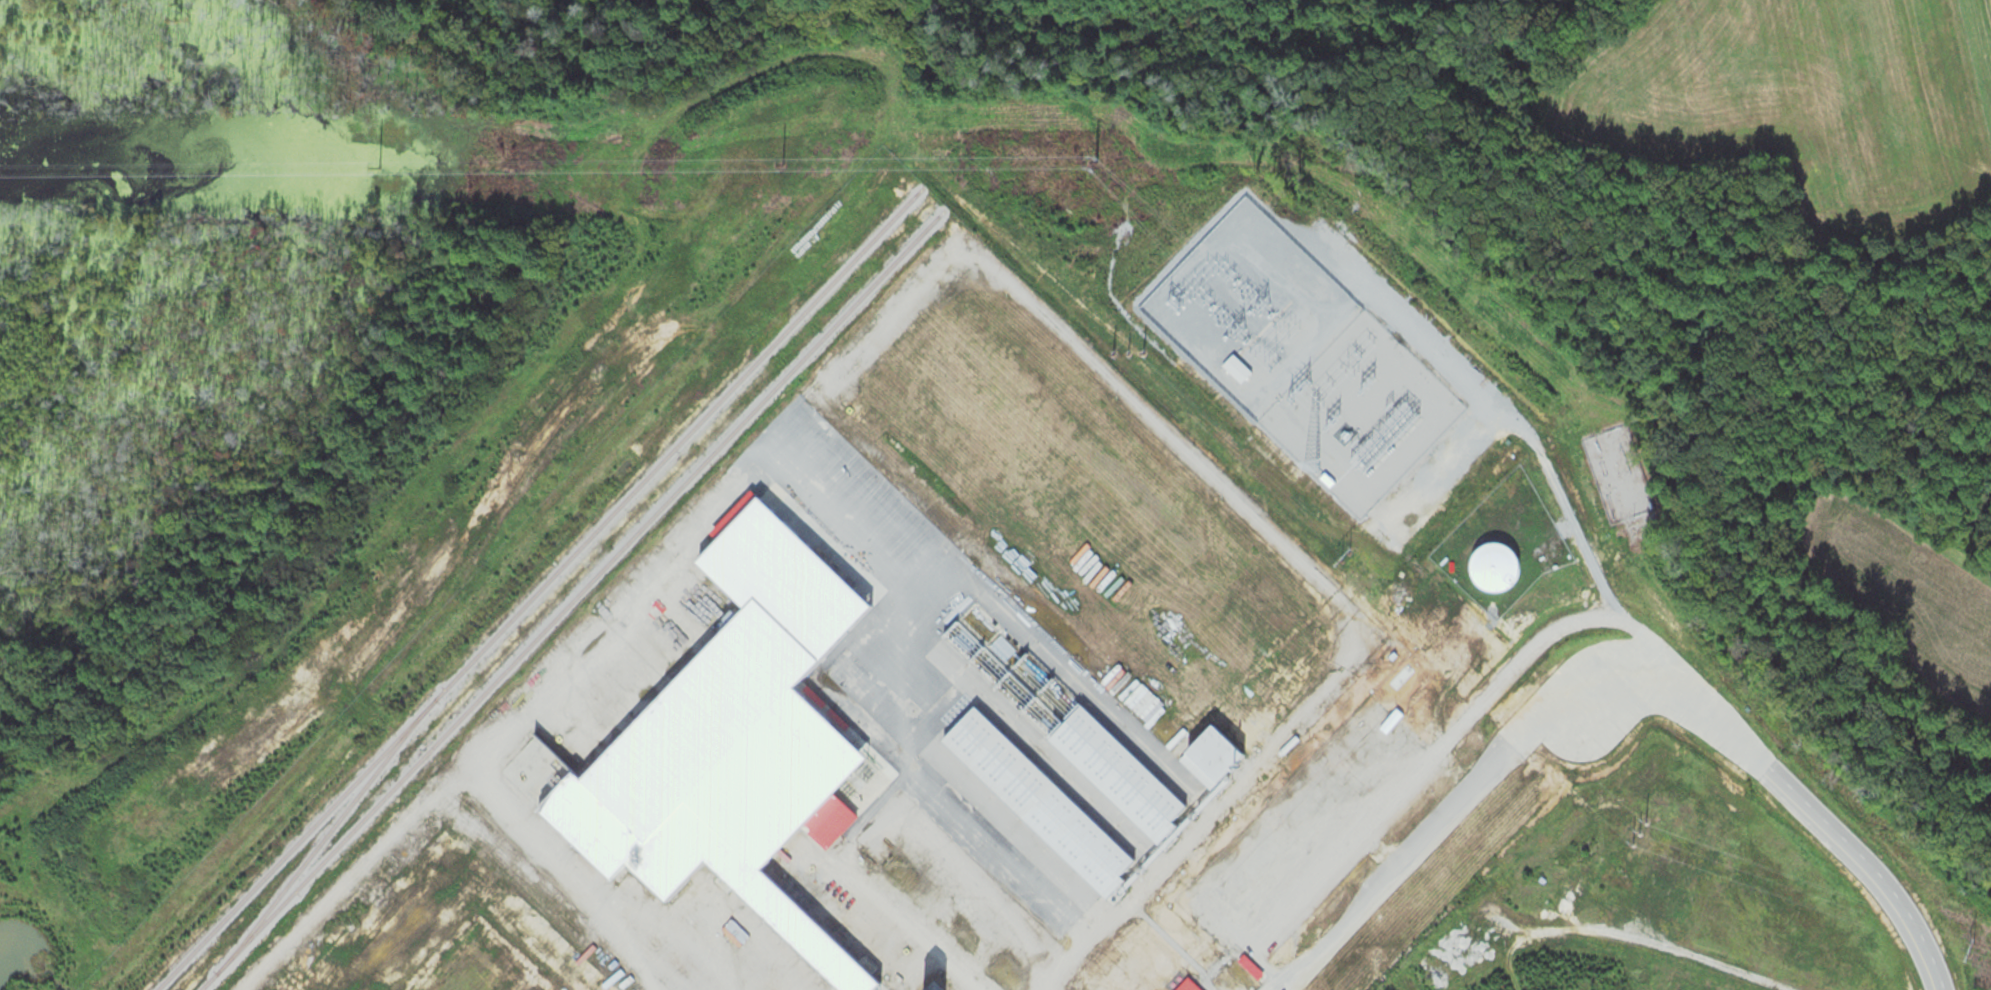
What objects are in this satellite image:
power substation: (1327, 380)
railway: (539, 588)
building: (1508, 786)
building: (1468, 810)
building: (1583, 866)
building: (1319, 983)

